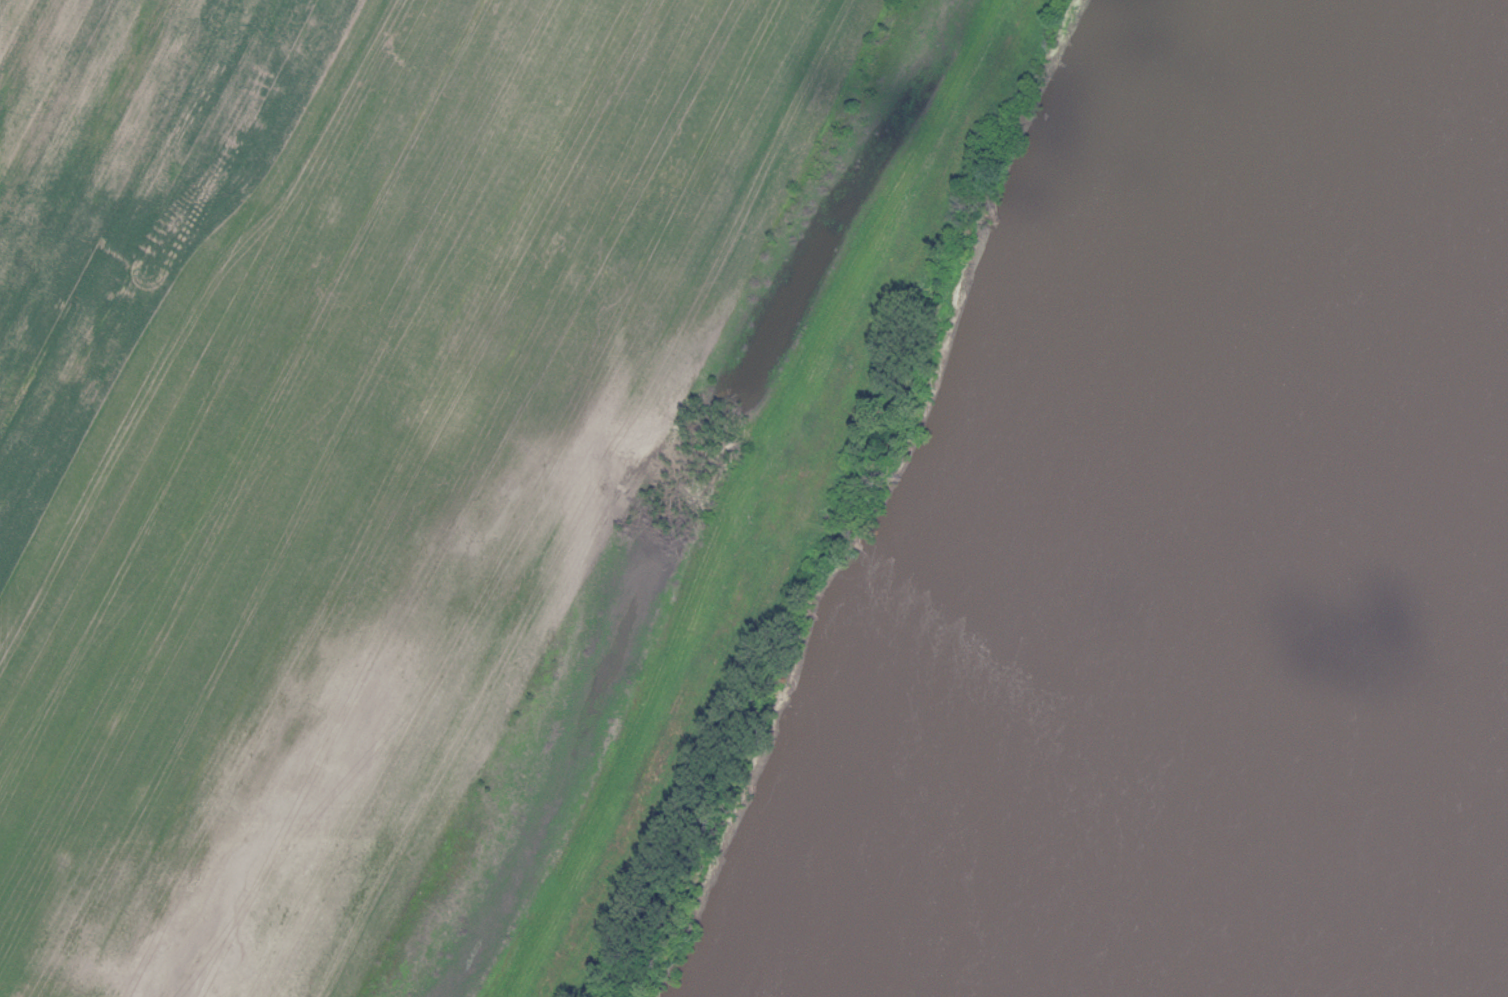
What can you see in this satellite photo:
river: (1257, 498)

